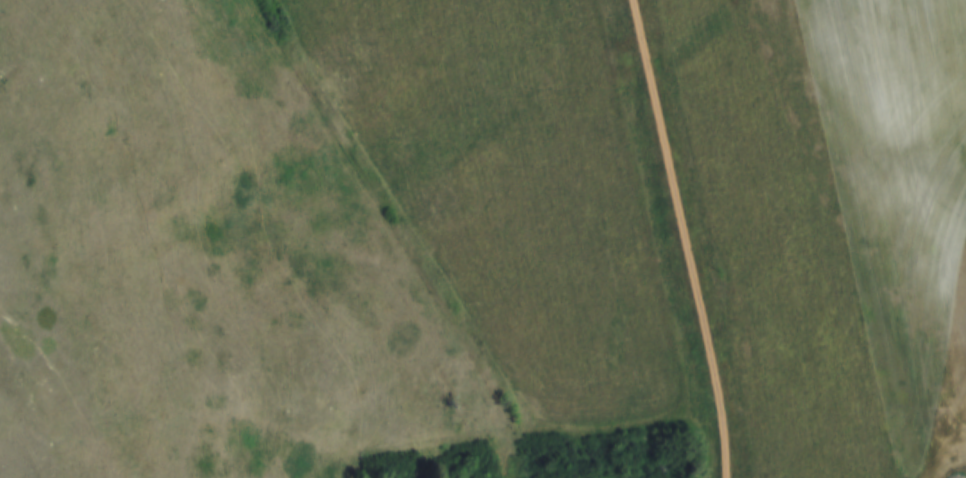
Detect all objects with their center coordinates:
road: (685, 238)
road: (948, 446)

